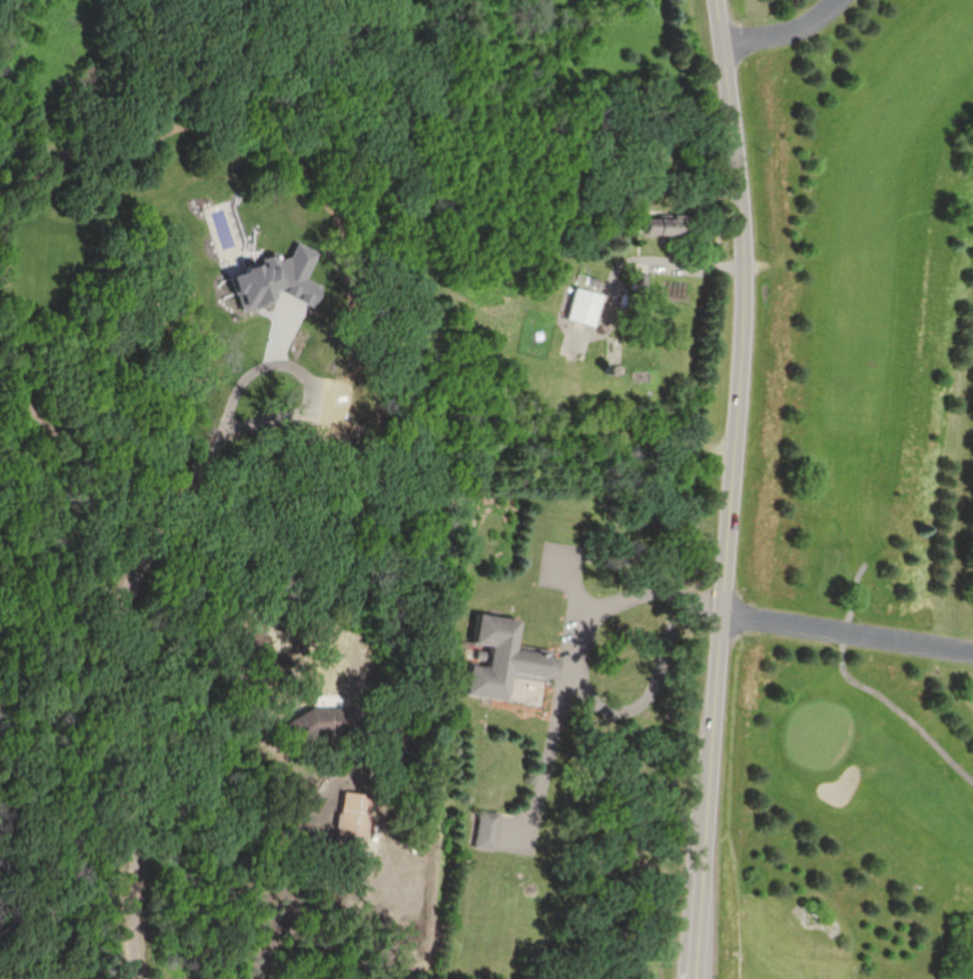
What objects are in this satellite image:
road: (784, 31)
building: (654, 231)
road: (675, 261)
building: (581, 308)
park: (880, 332)
road: (736, 489)
road: (849, 634)
road: (128, 657)
building: (505, 659)
road: (582, 676)
building: (331, 721)
building: (355, 819)
park: (858, 820)
building: (489, 830)
road: (298, 872)

